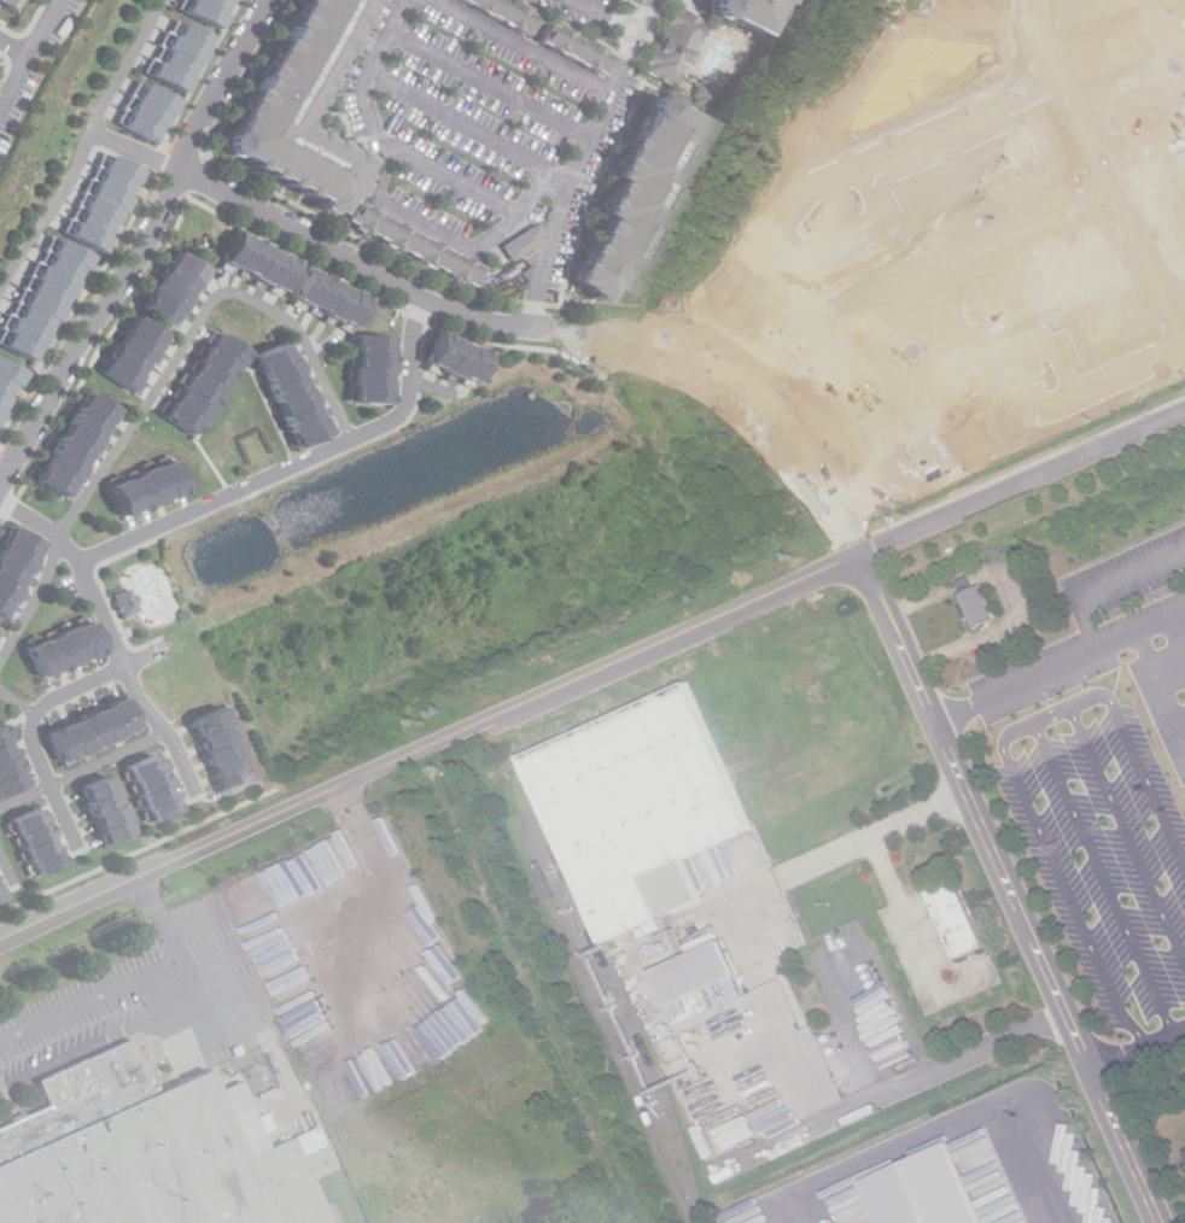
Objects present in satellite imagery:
building: (644, 0)
building: (13, 1)
building: (211, 10)
building: (749, 12)
parking lot: (584, 13)
road: (607, 17)
building: (548, 33)
road: (527, 43)
building: (676, 46)
road: (16, 47)
building: (183, 57)
road: (30, 58)
building: (1126, 81)
road: (492, 83)
road: (364, 96)
building: (699, 98)
building: (304, 107)
building: (154, 115)
parking lot: (475, 119)
road: (472, 128)
road: (903, 133)
road: (145, 153)
road: (91, 159)
road: (583, 159)
building: (962, 163)
road: (1099, 170)
road: (451, 177)
building: (1164, 200)
building: (638, 203)
building: (106, 205)
building: (524, 242)
building: (419, 245)
road: (484, 245)
road: (146, 248)
building: (827, 250)
building: (263, 264)
road: (921, 264)
road: (364, 265)
building: (1043, 285)
building: (177, 291)
building: (42, 300)
building: (332, 300)
road: (198, 326)
road: (1180, 337)
building: (135, 358)
building: (456, 359)
building: (370, 373)
road: (757, 376)
building: (5, 379)
building: (871, 380)
road: (1073, 381)
road: (232, 382)
building: (202, 385)
building: (293, 396)
building: (75, 447)
road: (297, 464)
road: (5, 466)
building: (146, 490)
building: (13, 567)
road: (1105, 586)
road: (35, 601)
building: (122, 601)
building: (987, 603)
road: (110, 632)
building: (64, 651)
road: (1060, 671)
road: (591, 674)
road: (18, 701)
road: (39, 709)
road: (1055, 715)
building: (93, 730)
building: (220, 748)
road: (1139, 761)
building: (8, 768)
road: (84, 771)
building: (156, 788)
building: (646, 796)
building: (107, 809)
road: (1128, 835)
building: (36, 842)
road: (7, 867)
road: (1063, 880)
road: (1107, 880)
road: (1010, 889)
building: (1, 895)
road: (741, 895)
building: (955, 914)
road: (195, 919)
road: (912, 930)
road: (216, 964)
building: (701, 967)
road: (189, 981)
road: (133, 982)
road: (223, 991)
railway: (626, 1006)
railway: (606, 1020)
road: (852, 1028)
road: (95, 1042)
road: (1138, 1052)
road: (892, 1086)
road: (948, 1127)
building: (147, 1151)
building: (924, 1190)

